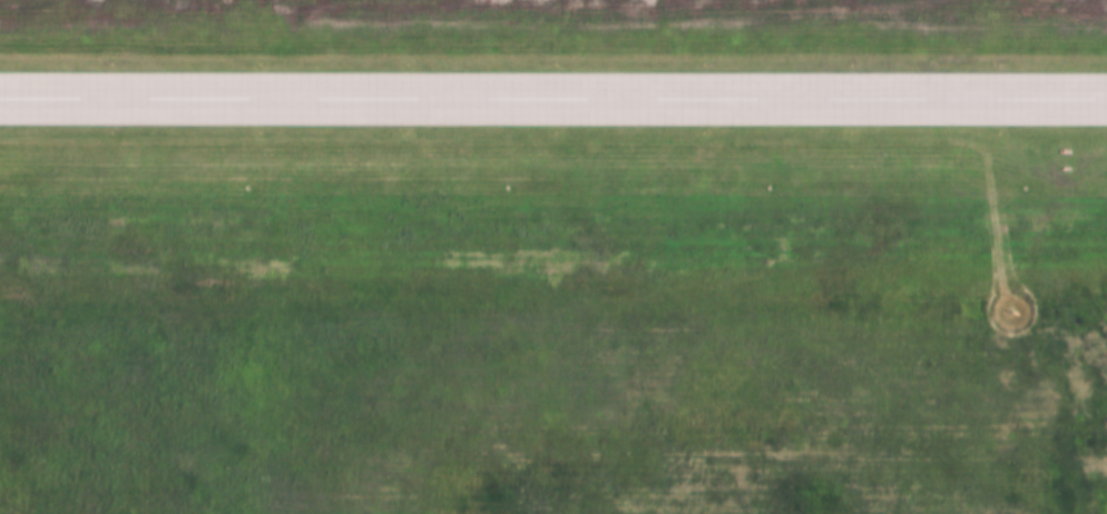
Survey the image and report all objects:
airport runway: (553, 98)
airport: (553, 257)

